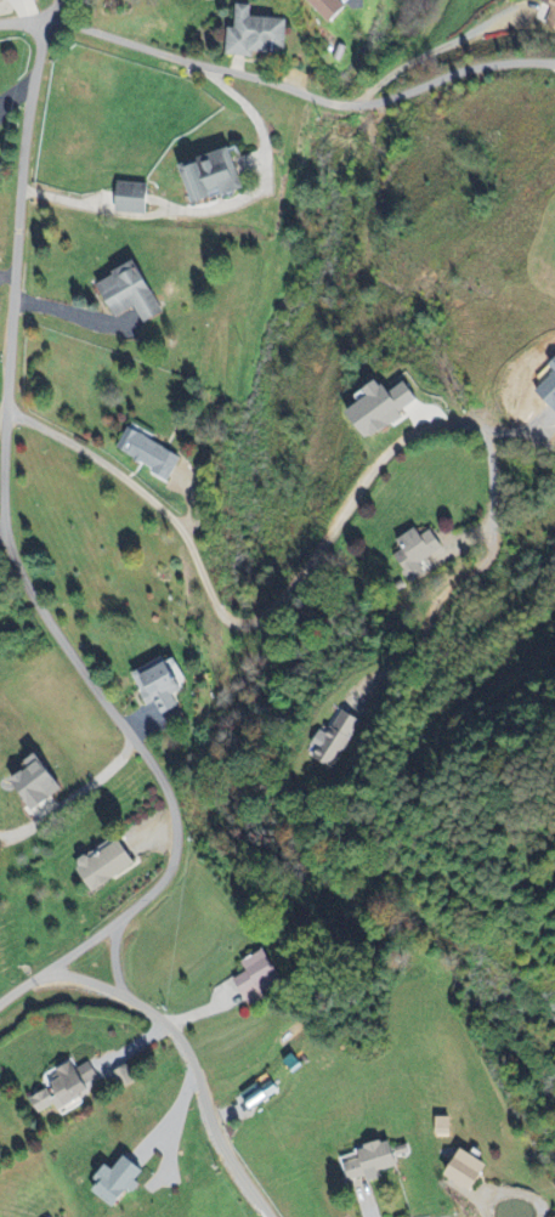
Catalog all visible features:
building: (334, 9)
building: (551, 15)
road: (23, 28)
building: (259, 35)
road: (435, 49)
road: (553, 63)
road: (296, 96)
building: (215, 176)
building: (136, 199)
road: (211, 205)
building: (134, 294)
building: (386, 407)
building: (152, 454)
road: (1, 530)
building: (419, 553)
road: (10, 561)
road: (281, 596)
road: (431, 618)
building: (163, 686)
building: (339, 738)
building: (40, 785)
road: (72, 804)
building: (109, 866)
building: (259, 978)
road: (185, 1068)
building: (68, 1088)
building: (256, 1097)
building: (374, 1162)
building: (471, 1172)
building: (120, 1183)

